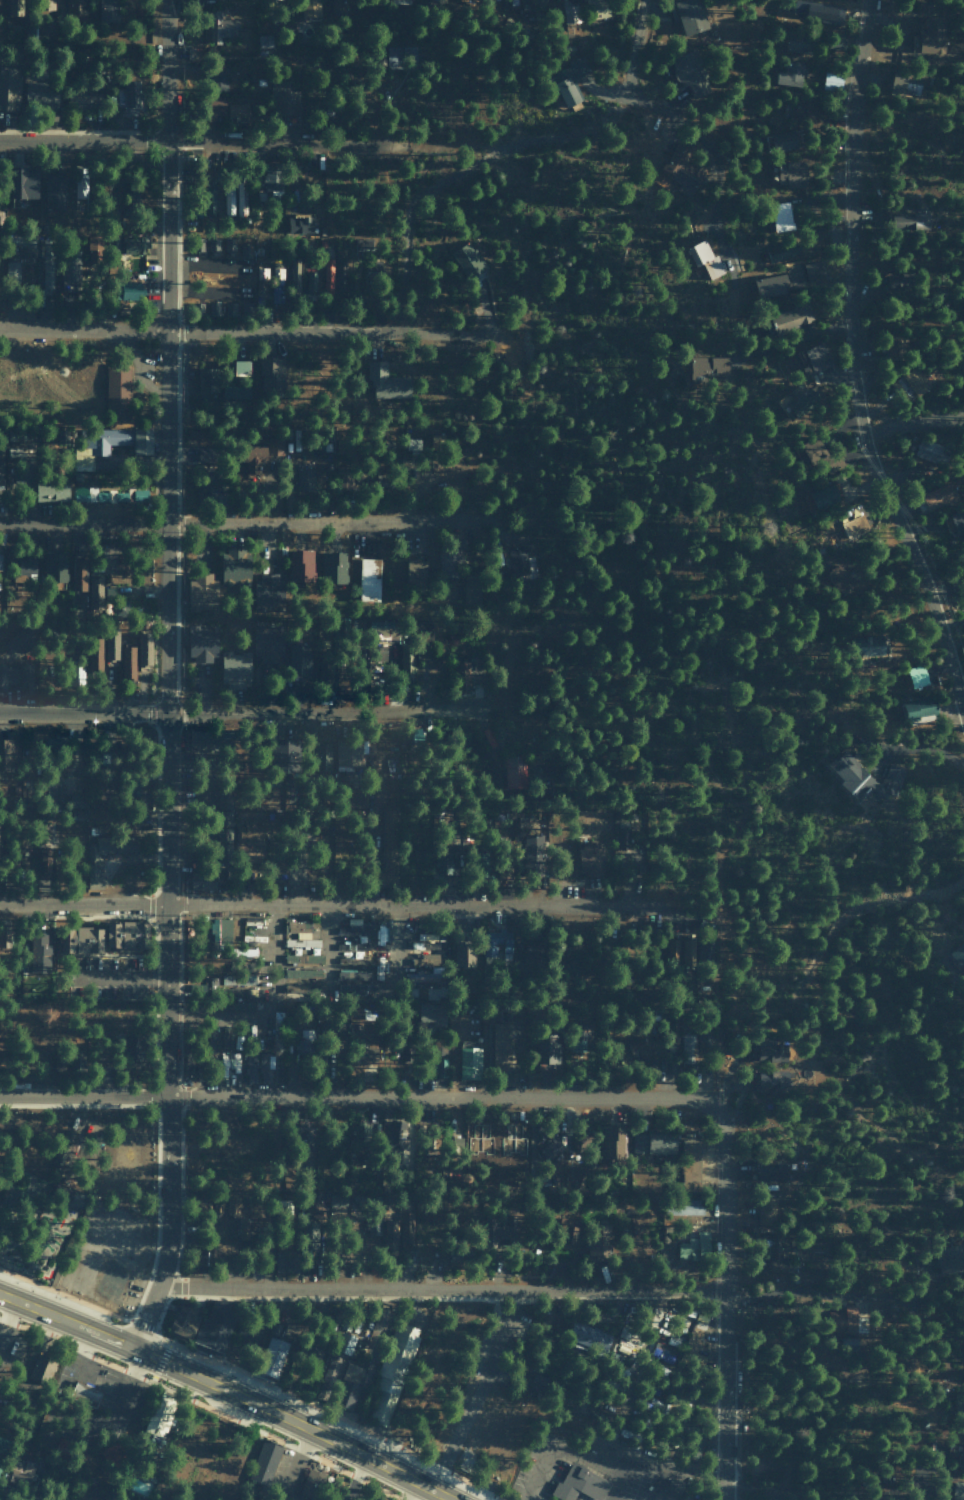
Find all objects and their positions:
building: (437, 0)
building: (473, 0)
building: (44, 2)
building: (509, 4)
building: (531, 4)
building: (341, 5)
building: (75, 6)
building: (15, 7)
building: (310, 7)
building: (598, 9)
building: (819, 10)
building: (107, 11)
building: (571, 12)
building: (688, 14)
building: (220, 26)
building: (931, 33)
building: (264, 41)
building: (796, 42)
road: (628, 47)
building: (394, 57)
building: (690, 72)
building: (791, 73)
building: (218, 79)
building: (832, 79)
building: (569, 80)
building: (905, 81)
building: (9, 87)
building: (41, 93)
building: (131, 97)
building: (79, 98)
building: (284, 99)
building: (213, 107)
building: (802, 109)
building: (238, 111)
building: (785, 140)
road: (198, 141)
building: (683, 167)
building: (792, 173)
building: (666, 180)
building: (272, 181)
building: (23, 182)
building: (80, 187)
building: (54, 189)
building: (135, 193)
building: (212, 197)
building: (241, 197)
building: (228, 198)
building: (781, 215)
building: (909, 220)
building: (299, 223)
building: (21, 240)
building: (199, 244)
building: (133, 245)
building: (783, 254)
building: (705, 258)
building: (468, 259)
building: (70, 264)
building: (369, 267)
building: (12, 268)
building: (811, 270)
building: (294, 275)
building: (328, 275)
building: (47, 276)
building: (340, 276)
building: (261, 278)
building: (896, 280)
building: (311, 282)
building: (276, 283)
building: (766, 285)
building: (214, 308)
building: (791, 317)
road: (260, 332)
building: (895, 345)
building: (814, 357)
building: (241, 367)
building: (707, 368)
road: (848, 368)
building: (271, 373)
building: (207, 379)
building: (916, 380)
building: (386, 381)
building: (902, 386)
building: (234, 391)
building: (117, 392)
building: (802, 398)
road: (911, 421)
building: (141, 439)
building: (96, 445)
building: (812, 449)
building: (928, 450)
building: (261, 454)
building: (2, 470)
building: (305, 481)
building: (383, 481)
building: (209, 484)
building: (51, 489)
building: (92, 494)
building: (824, 495)
building: (938, 495)
building: (955, 521)
road: (238, 523)
building: (854, 526)
building: (449, 560)
building: (235, 564)
building: (301, 565)
building: (54, 566)
building: (333, 566)
building: (78, 574)
building: (415, 575)
building: (838, 576)
building: (369, 579)
building: (95, 591)
building: (202, 592)
building: (265, 592)
building: (471, 593)
building: (378, 628)
building: (423, 630)
building: (14, 641)
building: (202, 643)
building: (268, 645)
building: (871, 645)
building: (111, 646)
building: (144, 651)
building: (380, 653)
building: (95, 654)
building: (299, 659)
building: (407, 659)
building: (128, 661)
building: (324, 668)
building: (235, 669)
building: (916, 675)
building: (464, 676)
building: (8, 677)
building: (25, 678)
road: (163, 678)
building: (918, 709)
road: (239, 712)
building: (489, 737)
building: (196, 739)
building: (349, 753)
building: (5, 754)
building: (281, 755)
building: (322, 756)
building: (514, 771)
building: (863, 777)
building: (45, 789)
building: (203, 792)
building: (133, 793)
building: (350, 796)
building: (77, 800)
building: (224, 818)
building: (388, 821)
building: (522, 826)
building: (250, 830)
building: (622, 836)
building: (18, 849)
building: (533, 854)
building: (46, 859)
building: (591, 859)
building: (94, 864)
building: (387, 864)
building: (443, 864)
building: (204, 881)
road: (328, 903)
building: (356, 928)
building: (220, 930)
building: (301, 935)
building: (126, 936)
building: (80, 941)
building: (497, 944)
building: (672, 950)
building: (705, 951)
building: (688, 952)
building: (38, 953)
building: (464, 953)
building: (958, 953)
building: (303, 958)
building: (571, 964)
building: (302, 973)
road: (323, 977)
building: (238, 979)
road: (394, 979)
building: (348, 989)
building: (419, 993)
building: (239, 999)
road: (268, 1012)
building: (431, 1013)
building: (671, 1027)
building: (332, 1028)
building: (578, 1033)
building: (211, 1038)
building: (306, 1040)
building: (635, 1043)
building: (437, 1046)
building: (129, 1047)
building: (501, 1047)
building: (688, 1048)
building: (546, 1049)
building: (771, 1051)
building: (368, 1056)
building: (469, 1063)
building: (229, 1064)
building: (651, 1066)
building: (263, 1067)
building: (440, 1067)
building: (250, 1075)
building: (772, 1080)
road: (359, 1099)
building: (304, 1137)
building: (70, 1143)
building: (393, 1143)
building: (612, 1143)
building: (654, 1143)
building: (457, 1146)
building: (548, 1151)
building: (690, 1163)
building: (770, 1172)
building: (66, 1197)
building: (337, 1200)
building: (202, 1204)
building: (232, 1205)
building: (687, 1207)
building: (767, 1214)
building: (374, 1227)
building: (406, 1229)
building: (306, 1230)
building: (501, 1230)
building: (569, 1233)
building: (389, 1235)
building: (598, 1243)
building: (694, 1247)
building: (214, 1253)
building: (777, 1254)
building: (950, 1259)
building: (286, 1261)
road: (518, 1290)
road: (718, 1301)
building: (846, 1322)
building: (184, 1323)
building: (215, 1327)
building: (589, 1337)
building: (694, 1337)
road: (66, 1345)
building: (668, 1349)
building: (340, 1350)
building: (312, 1354)
building: (272, 1358)
building: (41, 1367)
building: (392, 1373)
road: (476, 1390)
road: (227, 1392)
building: (84, 1395)
building: (347, 1396)
building: (156, 1422)
building: (266, 1459)
building: (961, 1461)
building: (22, 1467)
building: (580, 1483)
building: (673, 1486)
building: (958, 1491)
building: (108, 1498)
building: (697, 1498)

